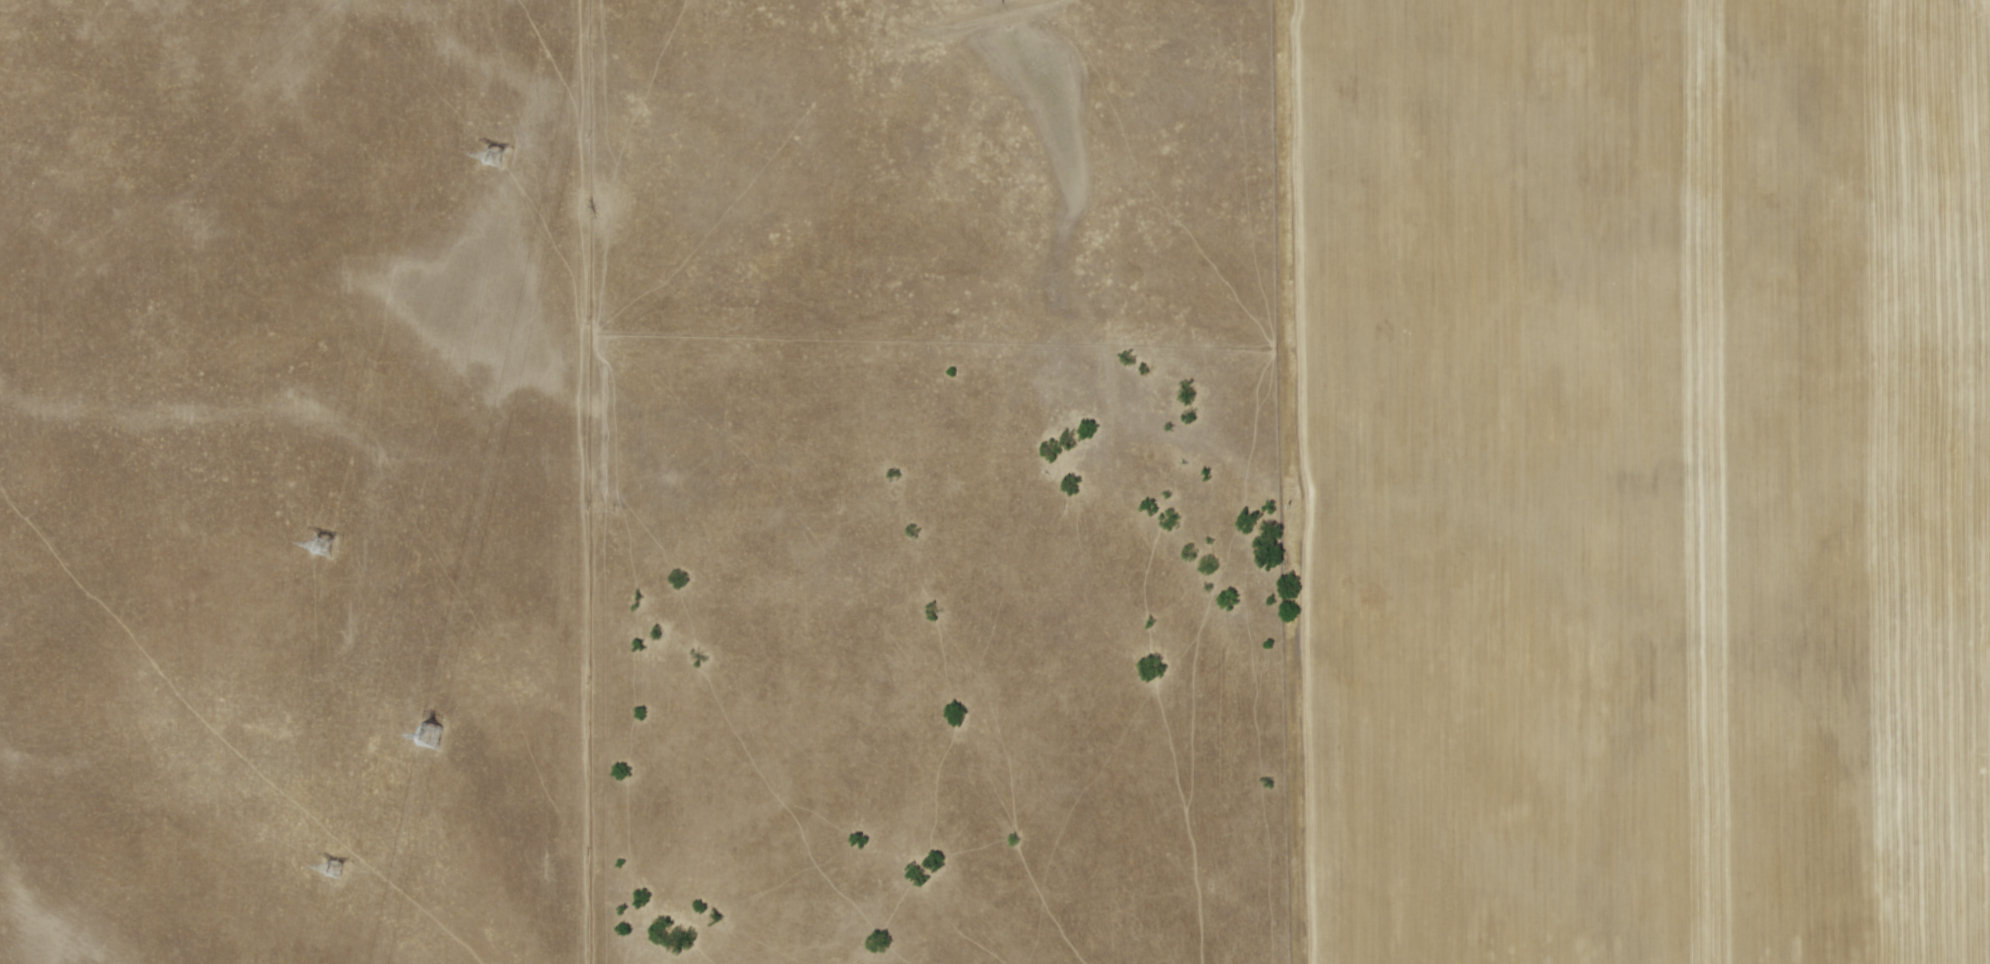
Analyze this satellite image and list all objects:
power tower: (484, 156)
crop: (977, 491)
power tower: (325, 543)
power tower: (435, 735)
power tower: (325, 863)

